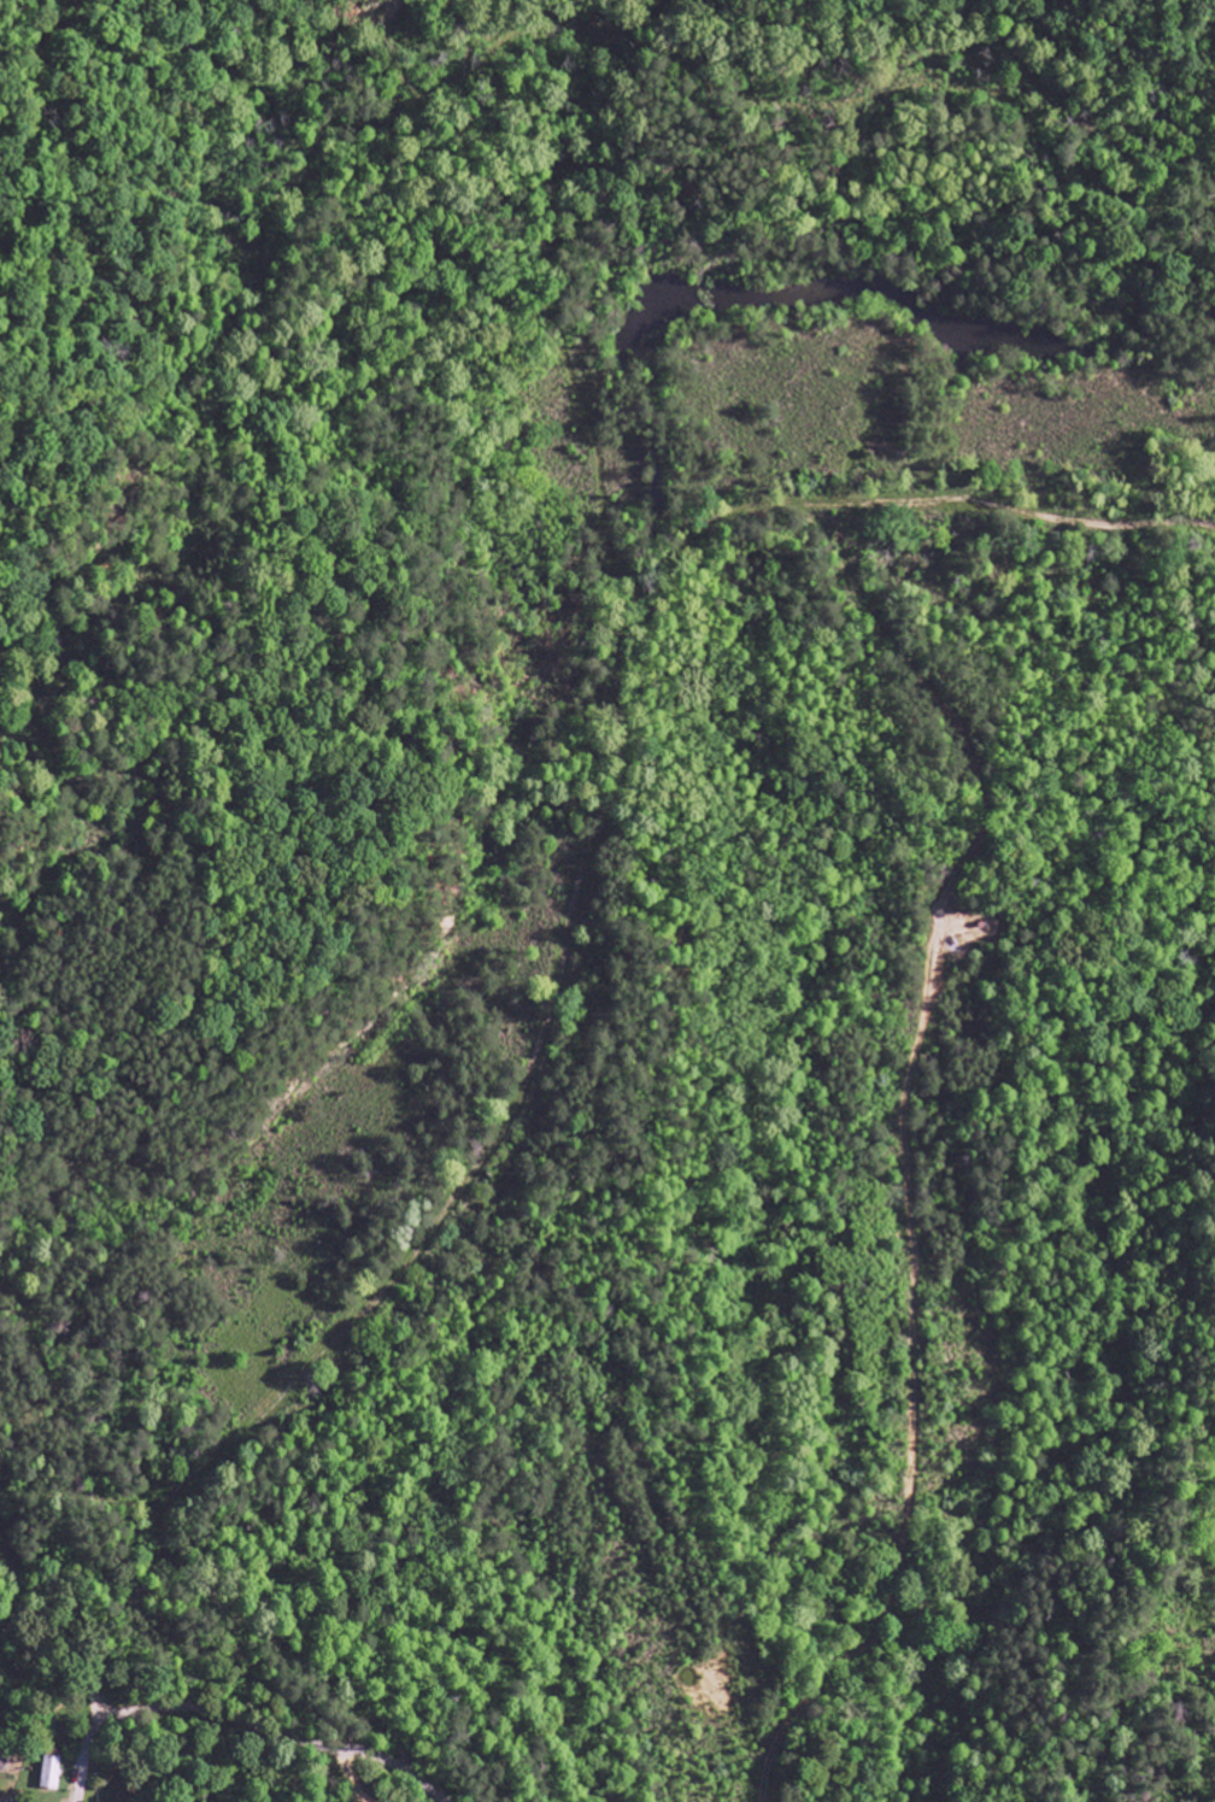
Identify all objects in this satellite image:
road: (239, 1719)
building: (49, 1772)
road: (1156, 1800)

